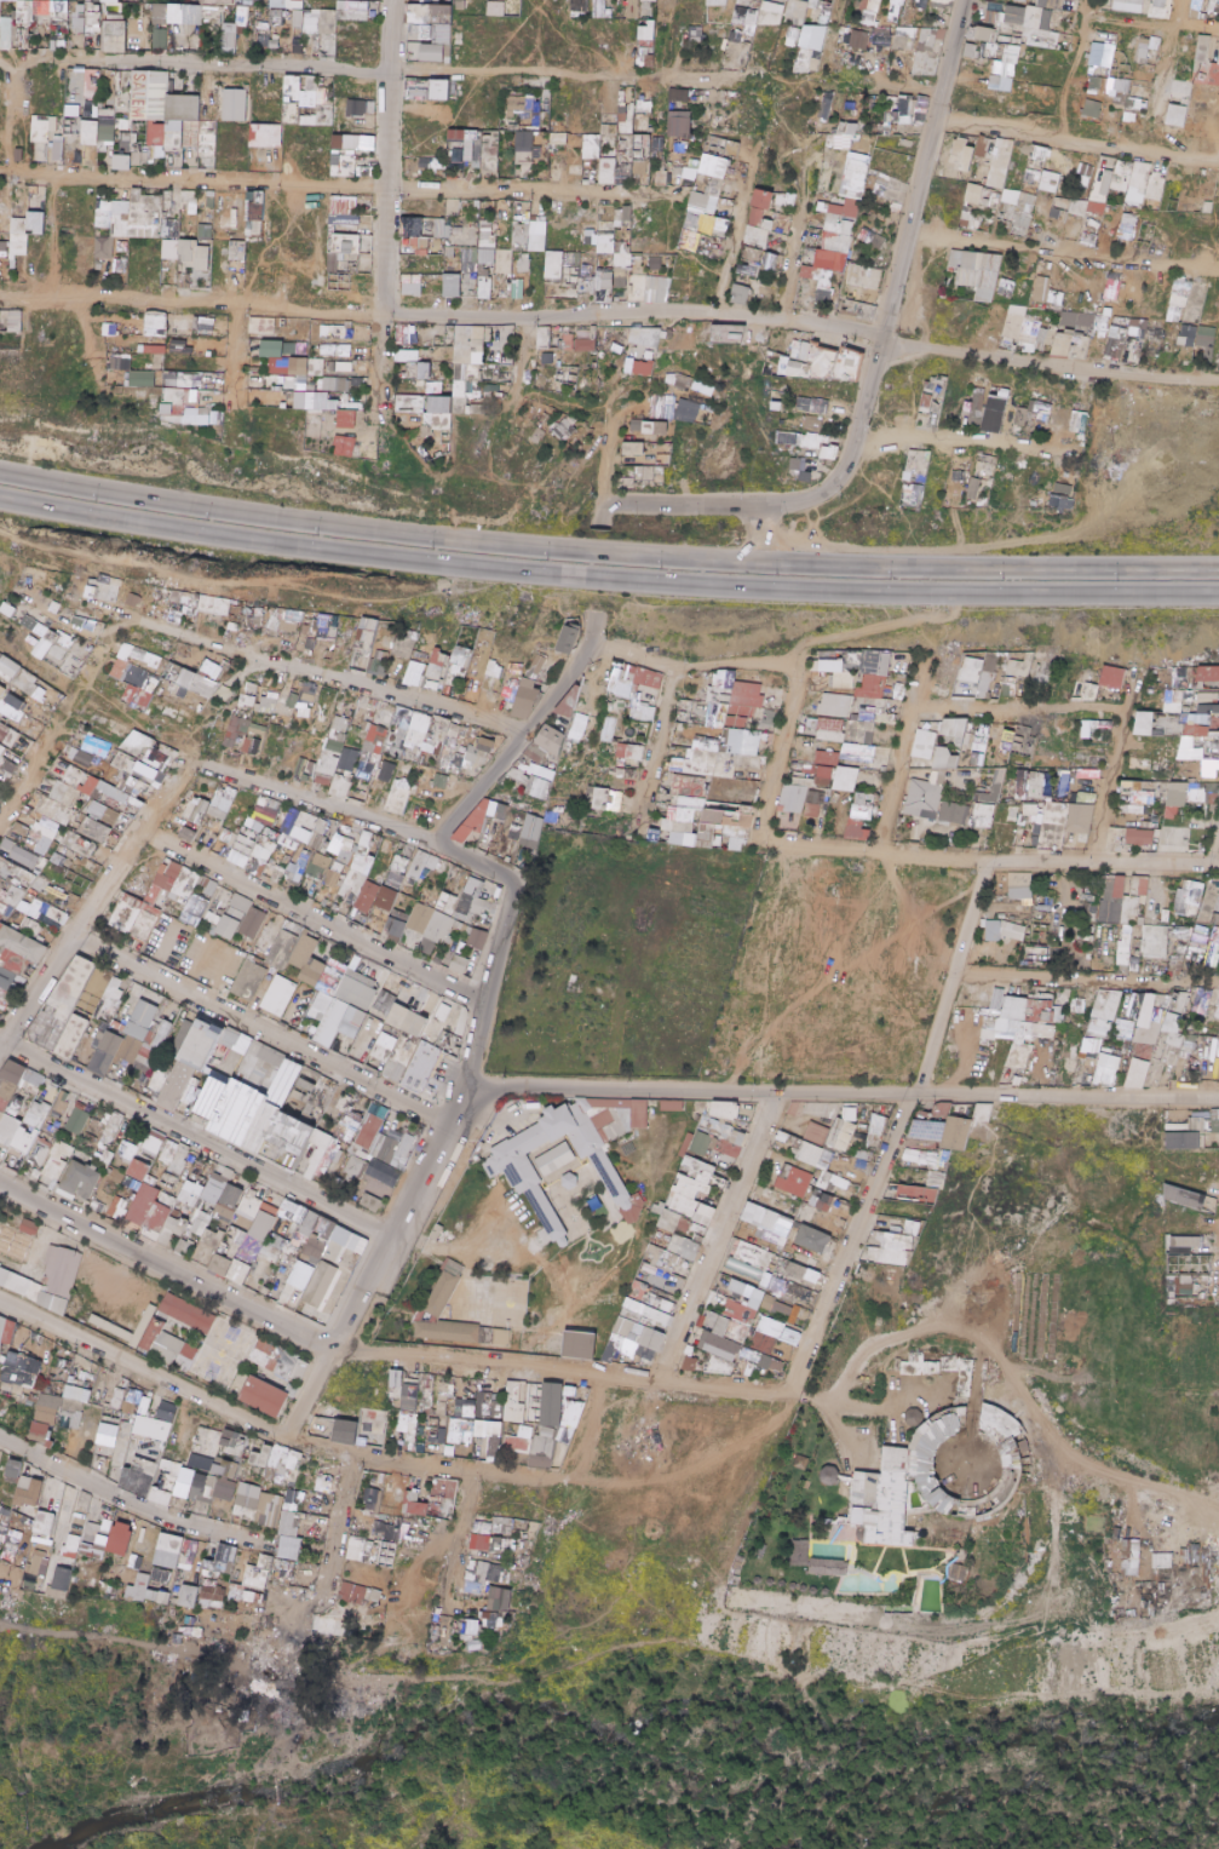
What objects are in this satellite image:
landfill: (1217, 1529)

